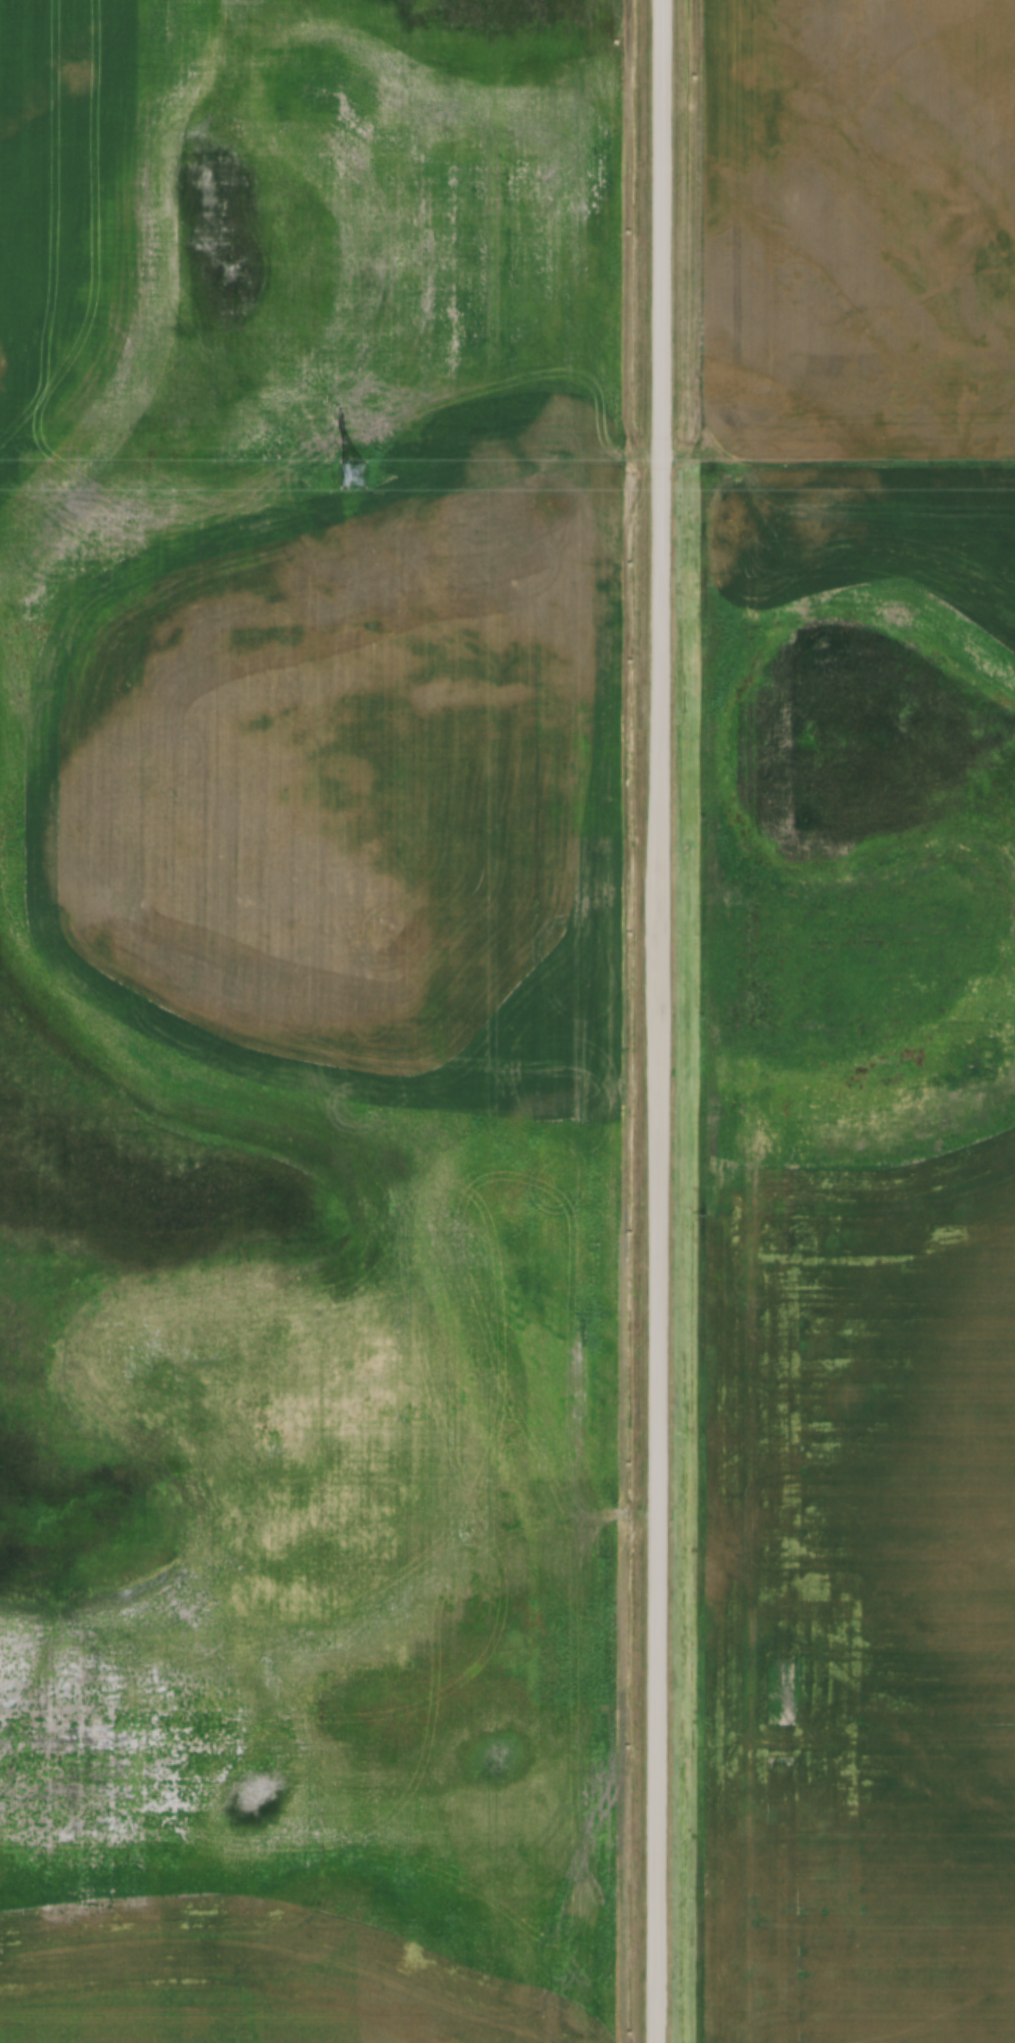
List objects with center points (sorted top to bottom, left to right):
power tower: (360, 473)
road: (659, 1021)

